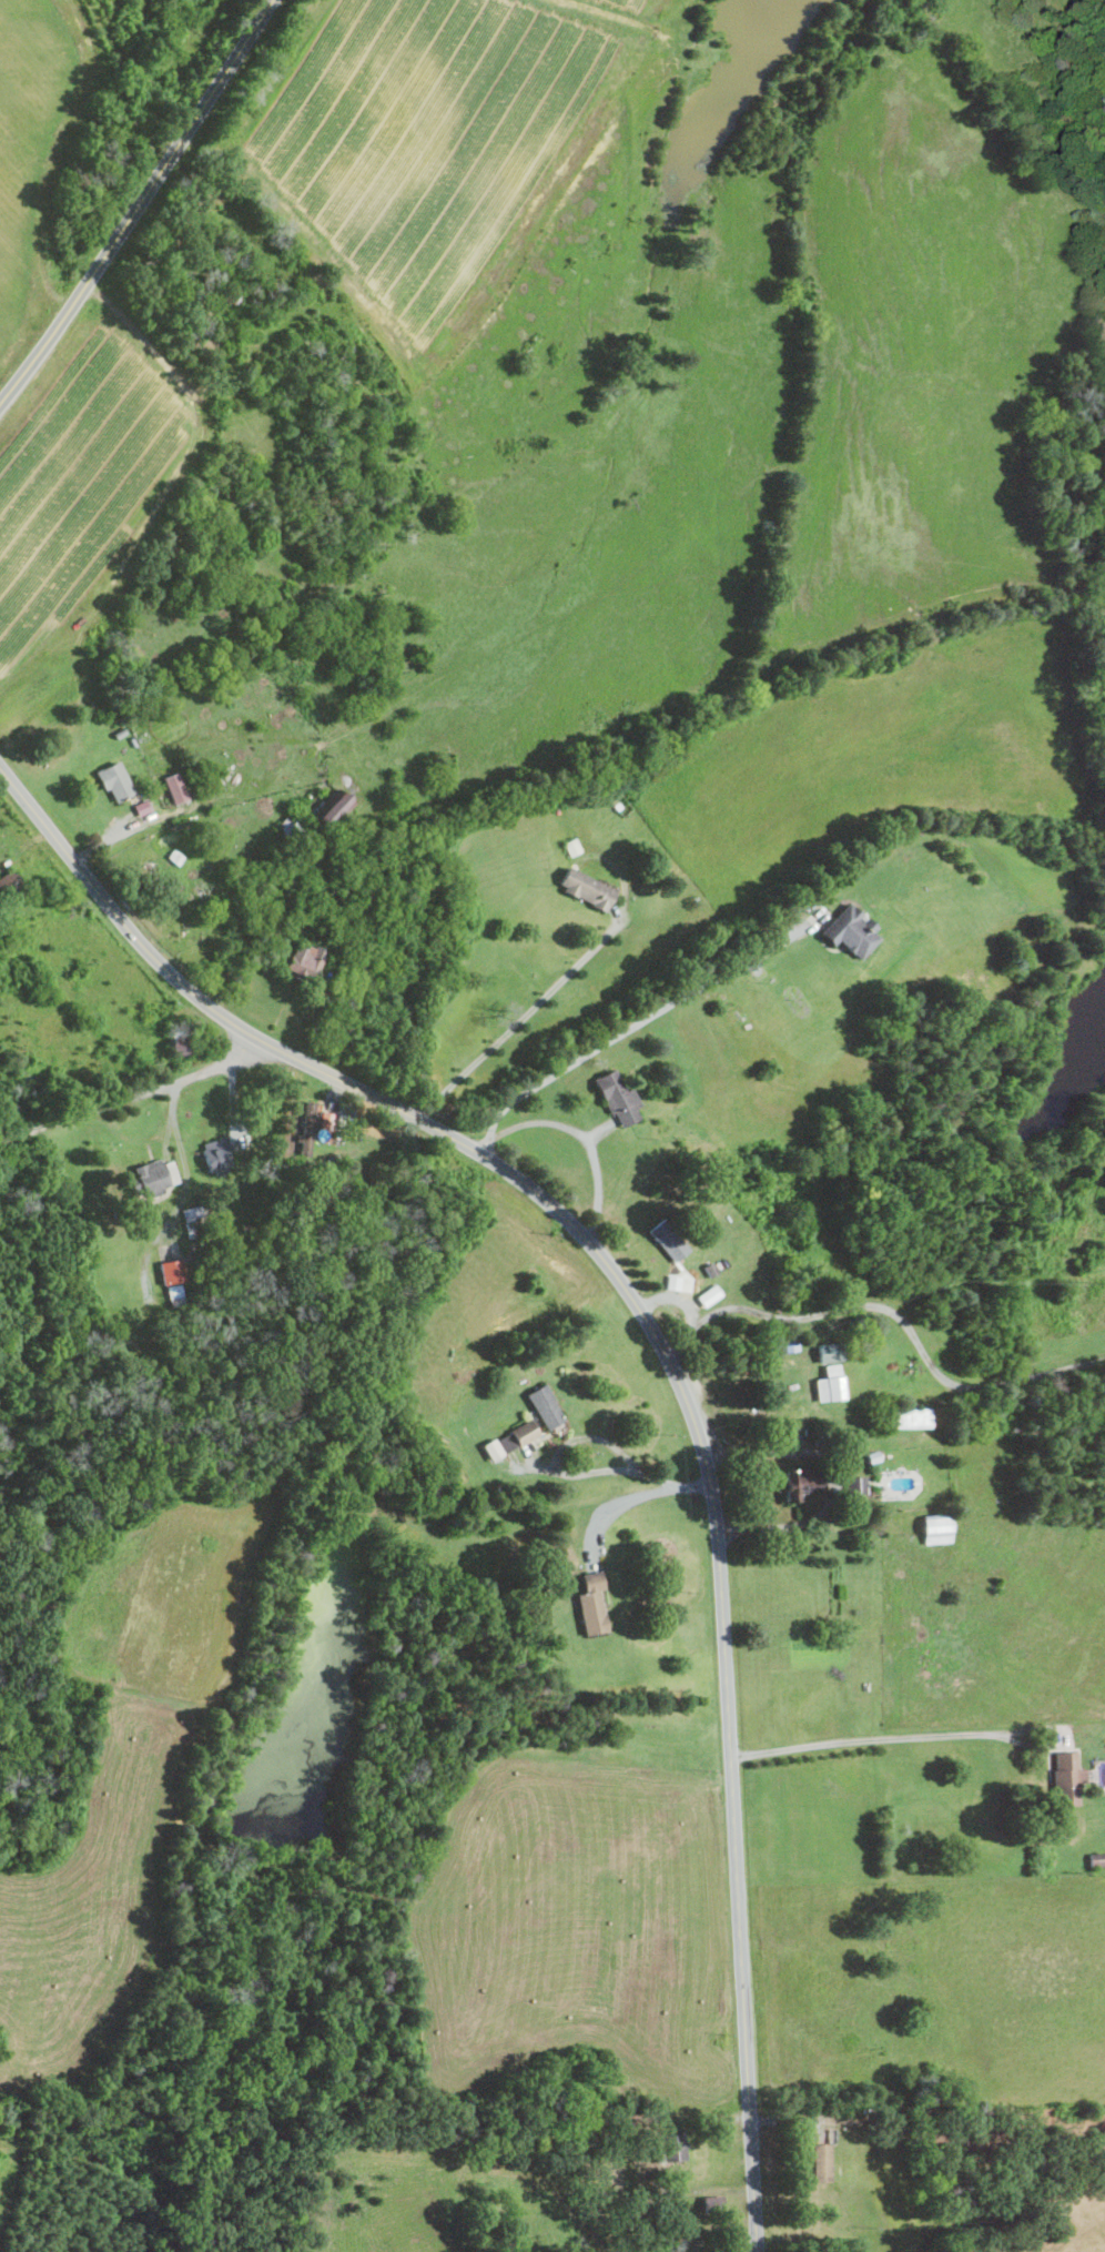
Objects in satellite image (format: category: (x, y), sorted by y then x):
road: (139, 204)
building: (114, 781)
building: (175, 787)
building: (142, 807)
building: (328, 809)
building: (572, 847)
building: (586, 888)
building: (852, 931)
building: (303, 960)
road: (517, 1021)
road: (624, 1032)
building: (179, 1047)
road: (134, 1098)
building: (618, 1098)
building: (311, 1117)
building: (326, 1119)
road: (588, 1144)
building: (217, 1154)
building: (155, 1177)
road: (186, 1180)
building: (669, 1240)
building: (173, 1282)
building: (709, 1295)
road: (886, 1310)
building: (829, 1351)
road: (666, 1356)
building: (830, 1383)
building: (546, 1405)
building: (913, 1416)
building: (510, 1438)
road: (559, 1471)
road: (841, 1474)
building: (801, 1481)
building: (858, 1484)
road: (689, 1487)
road: (615, 1506)
building: (937, 1527)
building: (592, 1603)
road: (931, 1735)
building: (1068, 1777)
building: (675, 2145)
road: (631, 2155)
building: (822, 2162)

